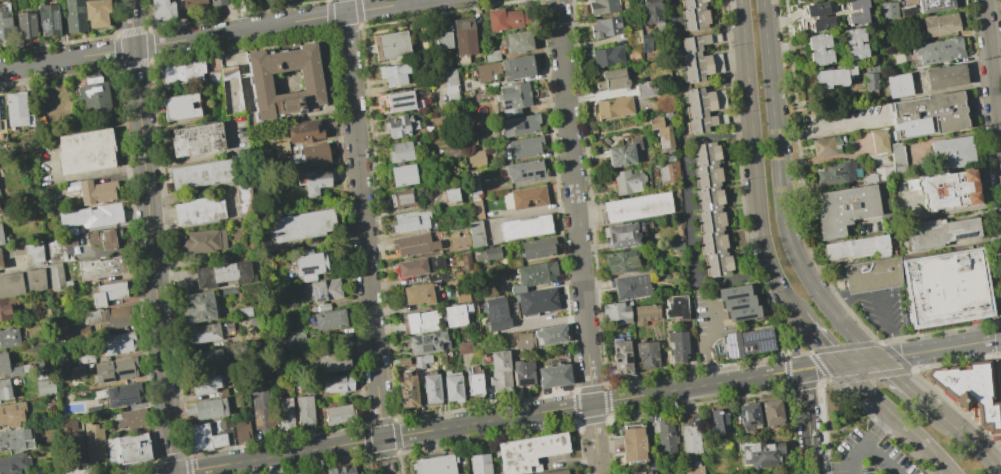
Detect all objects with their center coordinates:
building: (217, 2)
building: (192, 3)
building: (601, 6)
building: (934, 7)
building: (162, 10)
building: (888, 10)
building: (650, 11)
building: (96, 13)
building: (908, 13)
road: (676, 14)
building: (693, 14)
building: (834, 14)
rooftop solar panel: (54, 15)
building: (73, 15)
building: (502, 19)
building: (47, 20)
building: (4, 21)
rooftop solar panel: (46, 23)
rooftop solar panel: (55, 23)
building: (25, 25)
building: (940, 26)
building: (605, 27)
road: (212, 35)
building: (463, 36)
building: (633, 37)
building: (515, 40)
building: (442, 41)
building: (644, 42)
building: (855, 42)
building: (389, 45)
building: (819, 48)
building: (939, 51)
building: (490, 55)
building: (607, 56)
building: (694, 58)
building: (515, 67)
building: (485, 71)
building: (182, 72)
building: (392, 74)
building: (870, 75)
building: (449, 76)
building: (944, 76)
building: (834, 77)
building: (610, 79)
building: (310, 81)
building: (898, 85)
road: (993, 87)
building: (227, 89)
building: (646, 89)
building: (450, 92)
building: (92, 93)
rooftop solar panel: (398, 97)
building: (512, 97)
building: (399, 101)
rooftop solar panel: (505, 103)
rooftop solar panel: (401, 106)
building: (179, 107)
building: (612, 107)
building: (698, 110)
building: (15, 111)
building: (927, 117)
parking lot: (845, 121)
building: (1, 124)
building: (398, 125)
building: (519, 125)
road: (838, 126)
road: (773, 127)
building: (303, 131)
building: (661, 133)
road: (799, 135)
road: (785, 138)
building: (196, 139)
building: (879, 143)
rooftop solar panel: (662, 145)
building: (521, 147)
building: (825, 147)
building: (85, 151)
building: (313, 152)
building: (398, 152)
building: (950, 152)
building: (623, 153)
building: (474, 157)
road: (754, 158)
building: (896, 158)
building: (524, 171)
building: (668, 173)
building: (836, 173)
building: (200, 174)
building: (403, 174)
building: (878, 174)
building: (627, 181)
building: (312, 182)
building: (472, 187)
building: (945, 190)
building: (92, 191)
building: (44, 193)
building: (450, 194)
building: (527, 196)
building: (242, 198)
building: (402, 198)
rooftop solar panel: (528, 202)
building: (637, 207)
building: (475, 209)
building: (710, 209)
building: (845, 210)
building: (198, 211)
building: (91, 216)
road: (690, 218)
building: (410, 220)
building: (298, 225)
building: (523, 226)
building: (939, 233)
building: (475, 234)
building: (621, 235)
rooftop solar panel: (961, 235)
road: (151, 236)
road: (577, 236)
road: (363, 237)
building: (0, 238)
building: (102, 239)
building: (201, 241)
building: (459, 241)
building: (413, 244)
building: (61, 246)
building: (857, 247)
building: (537, 248)
building: (24, 251)
building: (486, 254)
building: (465, 260)
building: (621, 262)
building: (309, 265)
building: (0, 266)
building: (419, 266)
building: (101, 267)
building: (222, 274)
building: (534, 275)
building: (872, 275)
building: (436, 276)
building: (54, 277)
building: (22, 281)
building: (630, 285)
building: (946, 287)
building: (323, 289)
building: (228, 290)
rooftop solar panel: (314, 291)
building: (434, 292)
building: (107, 293)
building: (417, 294)
rooftop solar panel: (319, 296)
building: (462, 297)
road: (831, 300)
road: (876, 300)
building: (537, 301)
building: (737, 302)
building: (199, 306)
building: (6, 307)
building: (322, 307)
building: (676, 307)
parking lot: (880, 309)
road: (829, 310)
building: (243, 311)
building: (615, 311)
building: (645, 313)
building: (454, 314)
building: (495, 314)
building: (108, 317)
building: (329, 319)
building: (420, 321)
road: (999, 321)
parking lot: (707, 323)
building: (204, 333)
rooftop solar panel: (762, 333)
building: (549, 335)
building: (8, 336)
rooftop solar panel: (748, 336)
road: (915, 336)
road: (817, 337)
rooftop solar panel: (728, 338)
road: (997, 338)
road: (708, 339)
building: (523, 340)
road: (793, 340)
building: (295, 341)
building: (427, 342)
building: (747, 342)
building: (116, 343)
road: (880, 344)
rooftop solar panel: (762, 345)
building: (677, 346)
building: (464, 347)
road: (897, 347)
rooftop solar panel: (730, 350)
building: (645, 354)
road: (901, 354)
road: (1000, 354)
building: (620, 357)
building: (441, 358)
building: (209, 359)
traffic signals: (877, 359)
building: (402, 360)
building: (333, 361)
building: (421, 361)
traffic signals: (840, 364)
road: (1000, 366)
building: (10, 367)
building: (114, 370)
building: (499, 371)
building: (522, 373)
building: (553, 375)
building: (337, 383)
building: (474, 383)
road: (905, 383)
building: (205, 384)
building: (452, 386)
building: (45, 388)
rooftop solar panel: (412, 388)
building: (430, 388)
building: (4, 389)
building: (407, 390)
building: (972, 391)
rooftop solar panel: (408, 392)
building: (122, 395)
building: (260, 399)
road: (997, 401)
road: (982, 402)
building: (206, 409)
building: (304, 410)
building: (771, 410)
building: (11, 413)
building: (283, 414)
building: (339, 414)
building: (747, 414)
building: (130, 418)
road: (897, 418)
road: (966, 418)
building: (719, 420)
road: (486, 421)
road: (807, 421)
building: (68, 424)
building: (240, 429)
building: (197, 436)
building: (665, 437)
building: (690, 439)
road: (969, 439)
building: (15, 440)
building: (218, 440)
road: (867, 440)
building: (93, 442)
building: (632, 443)
building: (130, 449)
building: (528, 451)
building: (761, 453)
parking lot: (874, 455)
road: (881, 459)
building: (12, 463)
building: (479, 463)
building: (435, 465)
building: (692, 469)
building: (341, 470)
road: (997, 470)
building: (554, 472)
building: (640, 472)
road: (833, 472)
traffic signals: (172, 473)

